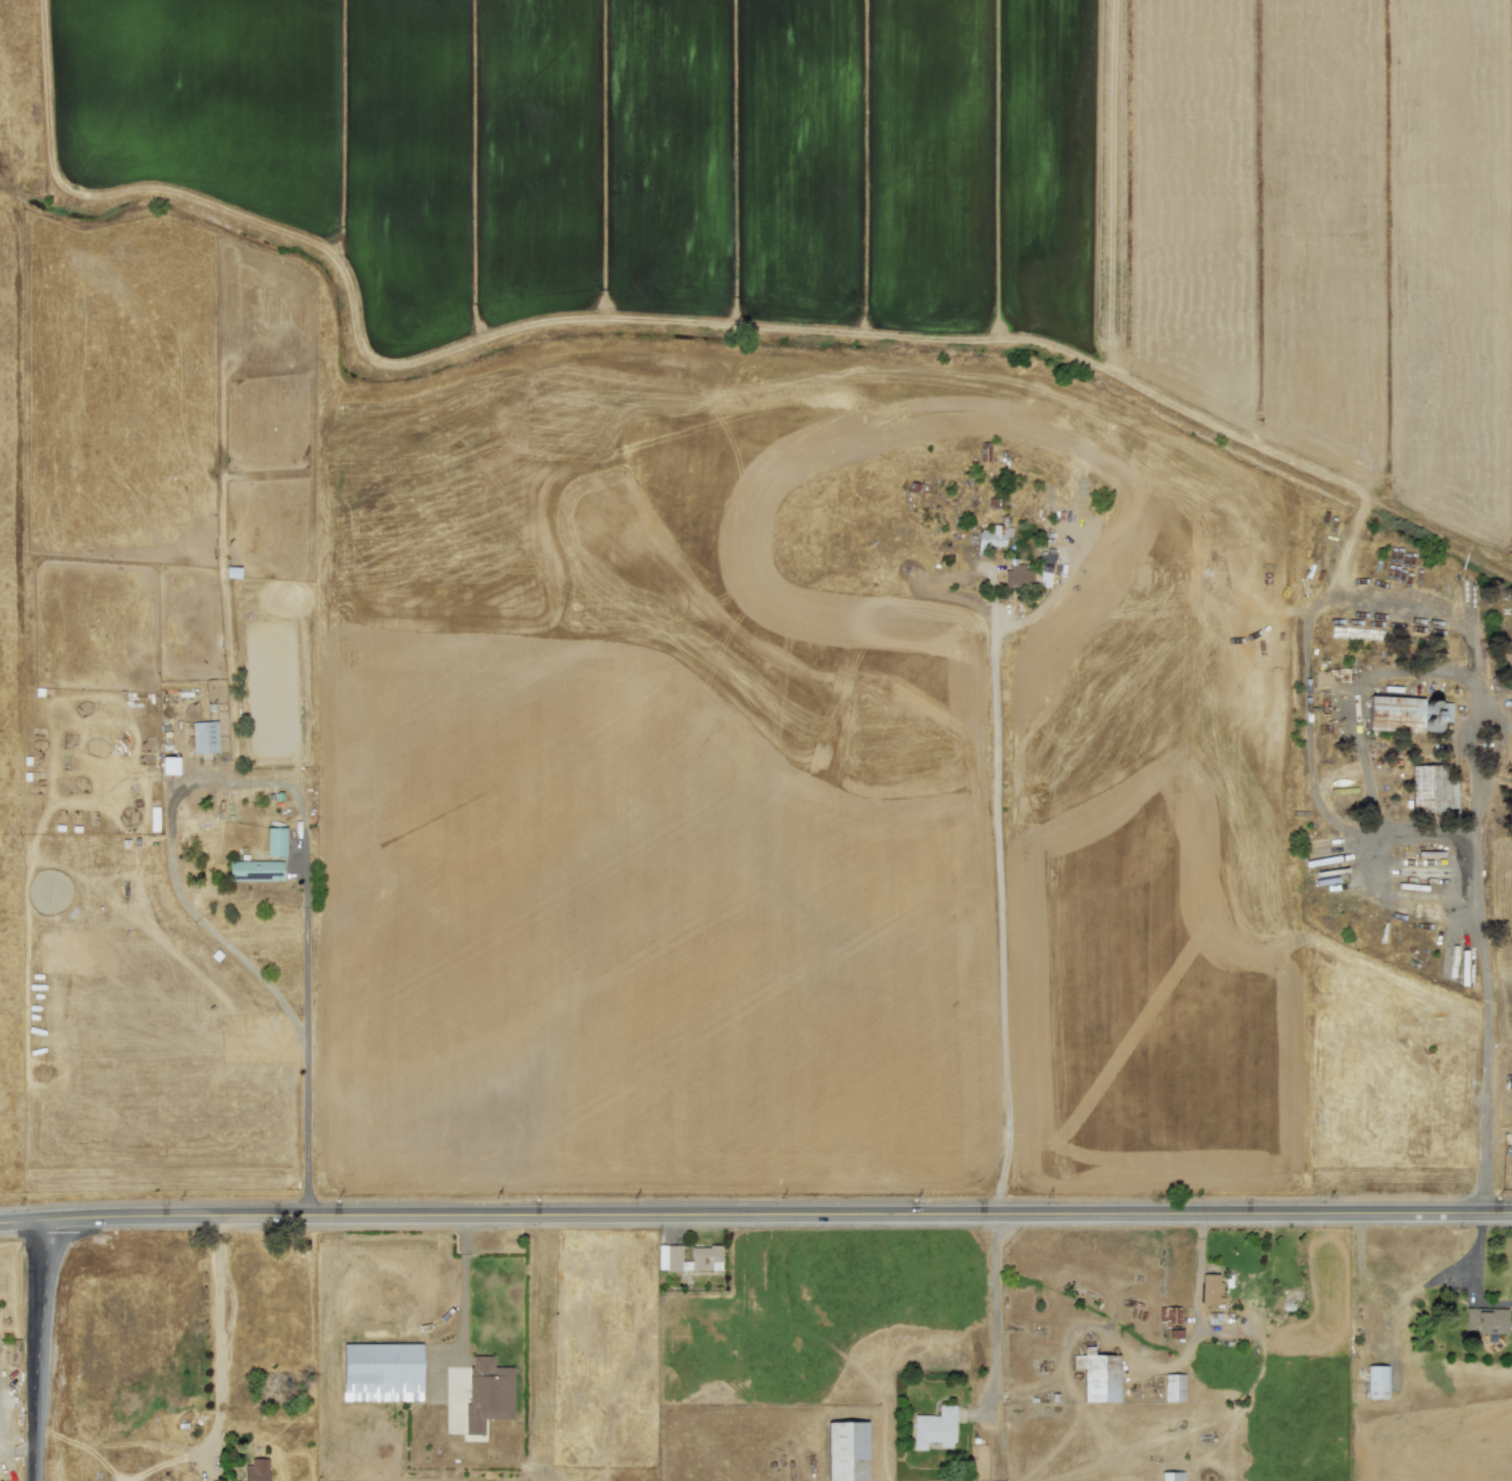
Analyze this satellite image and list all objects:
building: (990, 539)
building: (1045, 563)
building: (1018, 575)
building: (1406, 713)
road: (1354, 725)
building: (205, 737)
building: (169, 765)
road: (998, 775)
building: (1432, 789)
building: (207, 841)
building: (275, 841)
building: (254, 870)
road: (1481, 945)
road: (306, 1033)
road: (755, 1215)
building: (705, 1254)
building: (1211, 1289)
road: (996, 1308)
road: (461, 1309)
building: (1169, 1315)
road: (220, 1320)
building: (1486, 1322)
road: (37, 1351)
building: (381, 1371)
building: (1098, 1375)
building: (1376, 1382)
building: (1174, 1388)
building: (487, 1392)
building: (934, 1428)
building: (846, 1451)
building: (256, 1470)
building: (1172, 1476)

